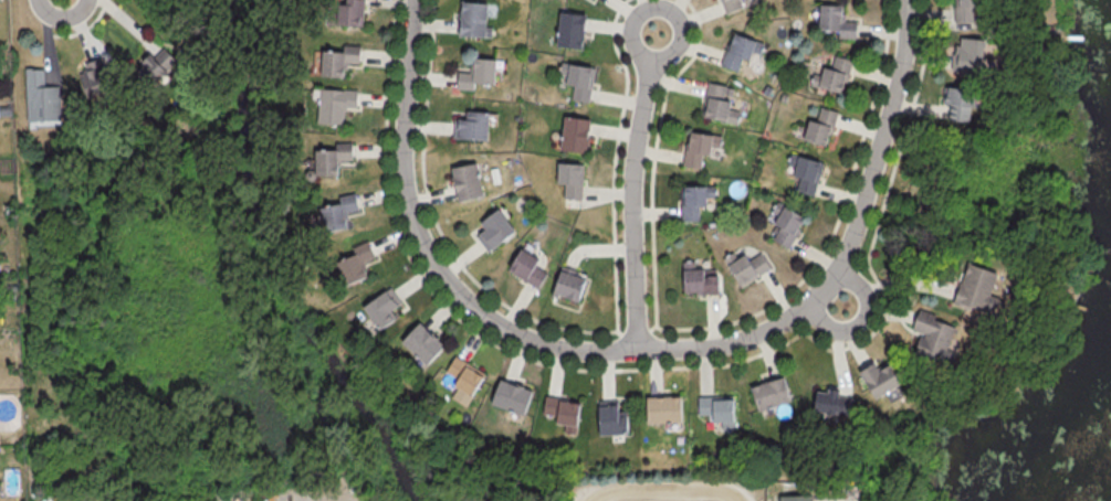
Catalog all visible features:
building: (730, 6)
building: (964, 10)
building: (346, 12)
building: (469, 19)
building: (832, 22)
building: (567, 31)
building: (737, 52)
building: (966, 55)
building: (336, 61)
building: (151, 65)
building: (831, 74)
building: (475, 75)
building: (92, 78)
building: (575, 81)
building: (39, 97)
building: (717, 104)
building: (955, 104)
building: (333, 105)
building: (469, 126)
building: (818, 126)
building: (572, 136)
building: (696, 148)
building: (327, 159)
building: (803, 173)
building: (568, 182)
building: (463, 183)
road: (637, 189)
building: (691, 203)
building: (335, 213)
building: (784, 225)
building: (491, 231)
building: (353, 264)
building: (525, 268)
building: (746, 268)
building: (698, 283)
building: (566, 286)
road: (897, 286)
building: (975, 289)
building: (379, 306)
building: (932, 340)
building: (419, 344)
road: (646, 348)
building: (463, 377)
building: (876, 381)
building: (768, 394)
building: (509, 398)
building: (831, 403)
building: (661, 411)
building: (716, 412)
building: (558, 415)
building: (610, 419)
park: (726, 482)
road: (670, 490)
building: (795, 499)
road: (353, 500)

